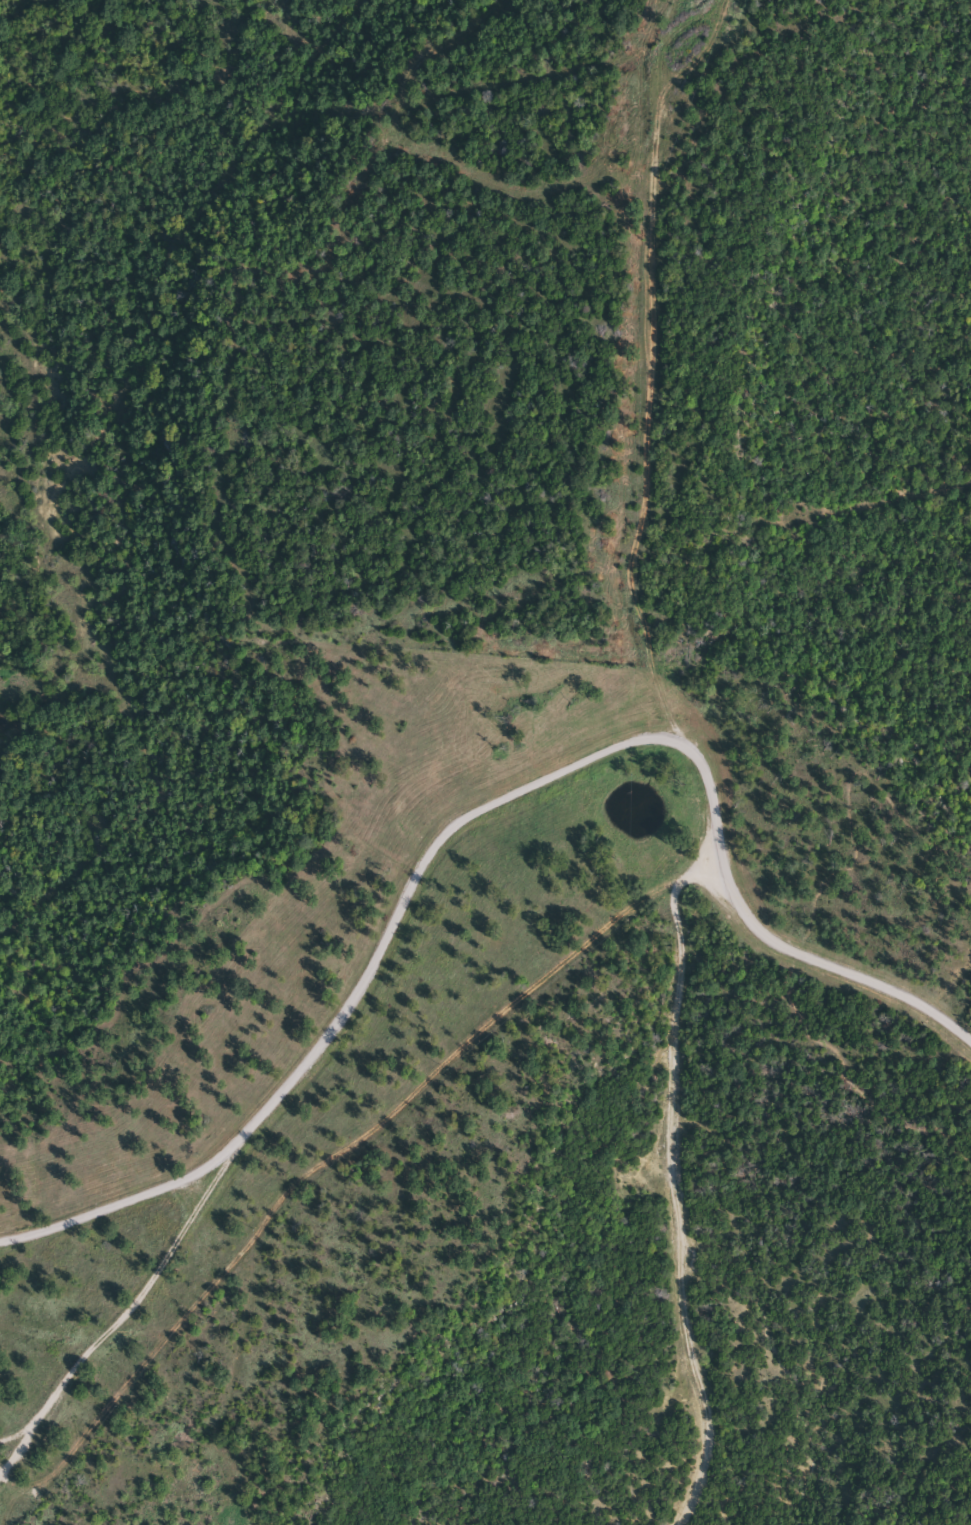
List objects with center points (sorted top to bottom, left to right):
road: (475, 811)
road: (670, 1175)
road: (110, 1327)
road: (17, 1432)

